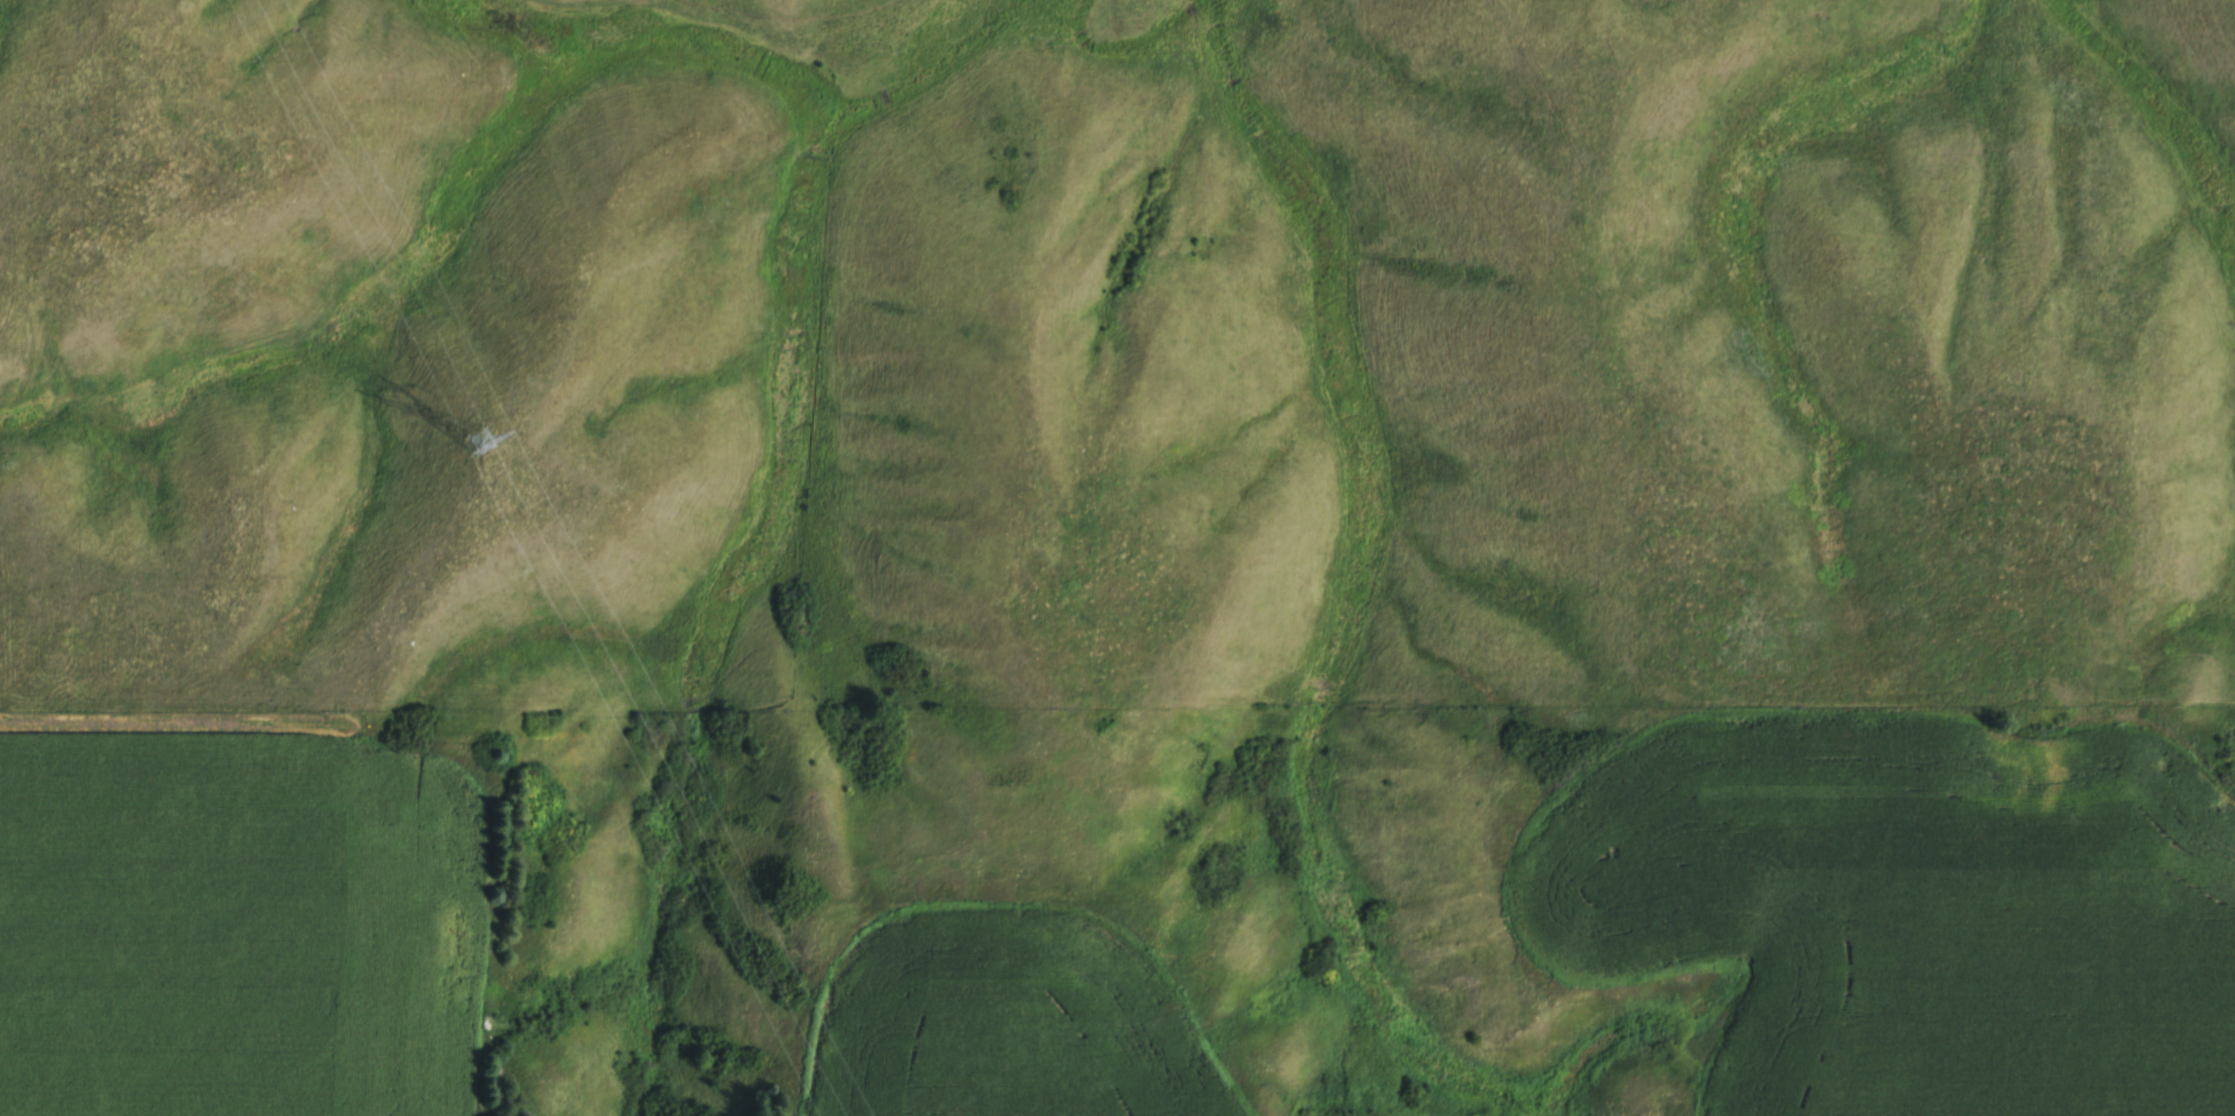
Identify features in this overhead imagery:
power tower: (485, 445)

